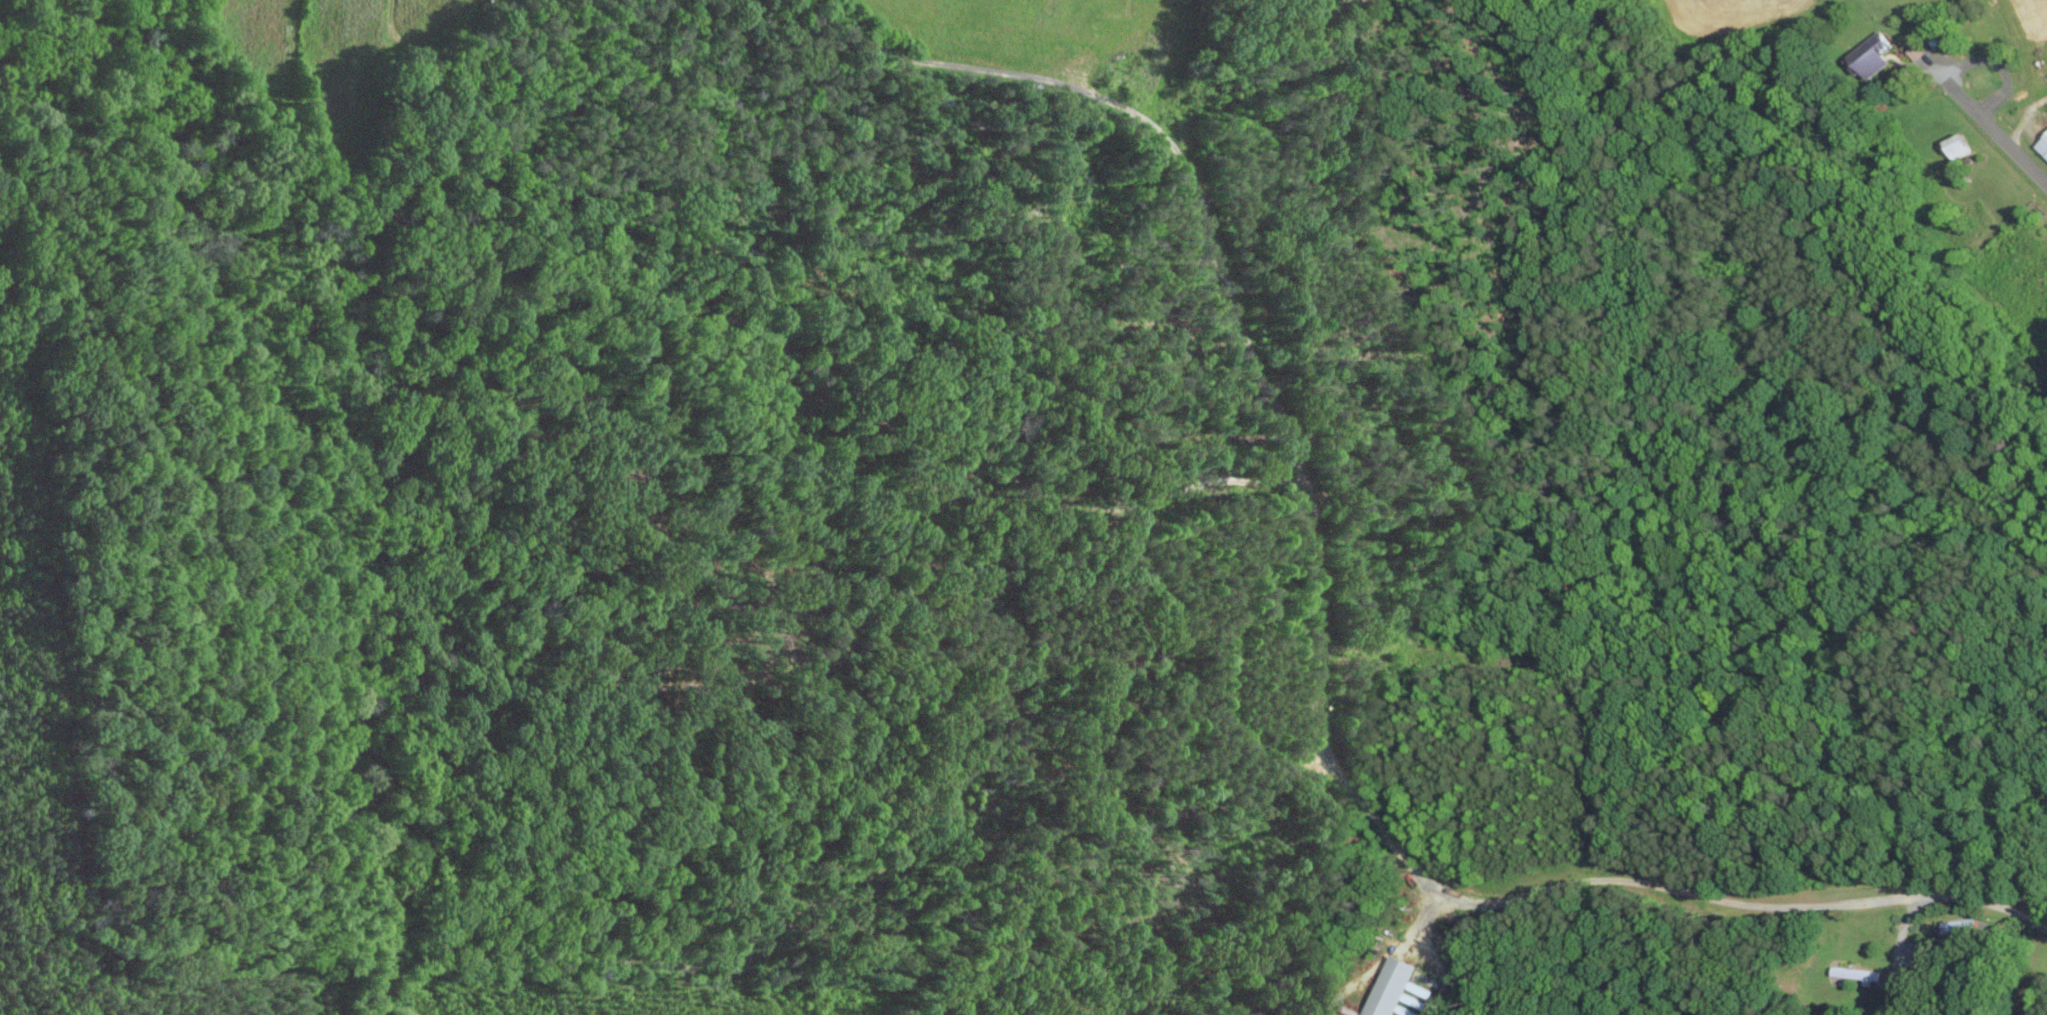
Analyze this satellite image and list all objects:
building: (1870, 55)
road: (1950, 89)
road: (2023, 117)
building: (2042, 145)
building: (1957, 146)
road: (1746, 903)
building: (1958, 924)
road: (1900, 935)
building: (1858, 973)
building: (1388, 986)

